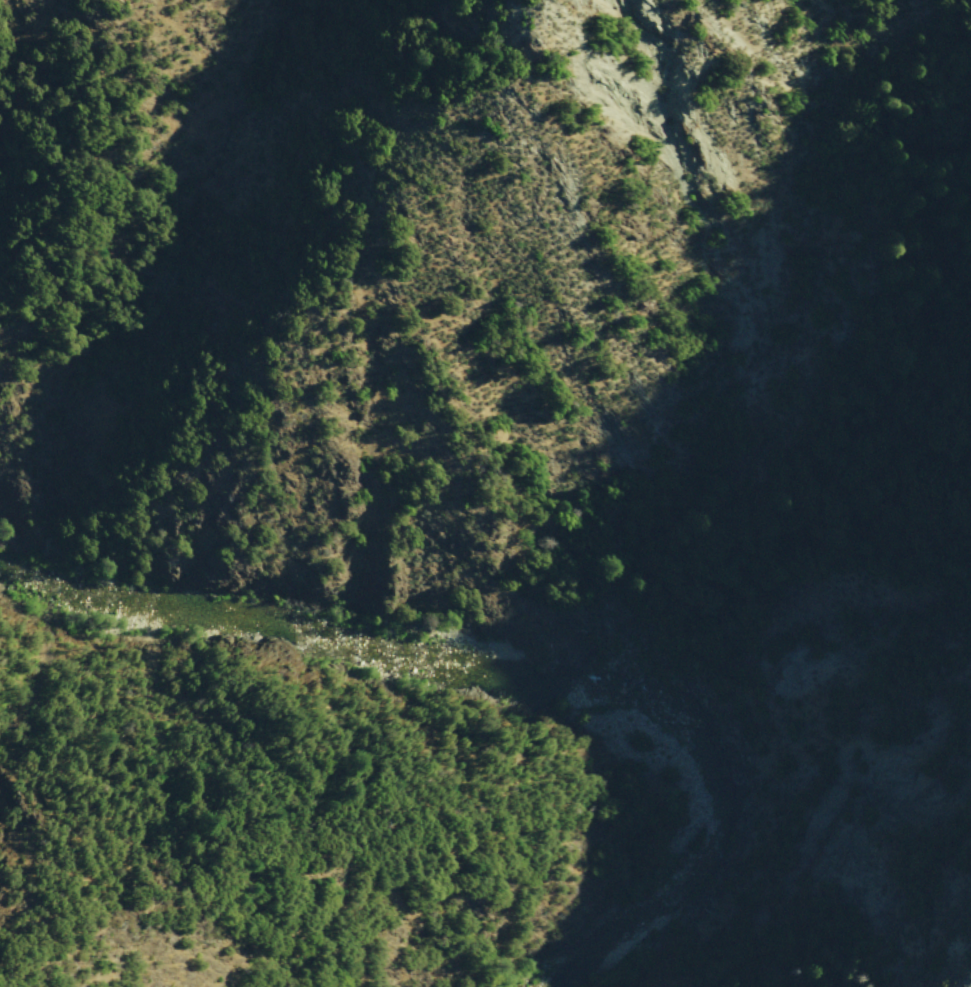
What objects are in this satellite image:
river: (41, 579)
river: (566, 689)

